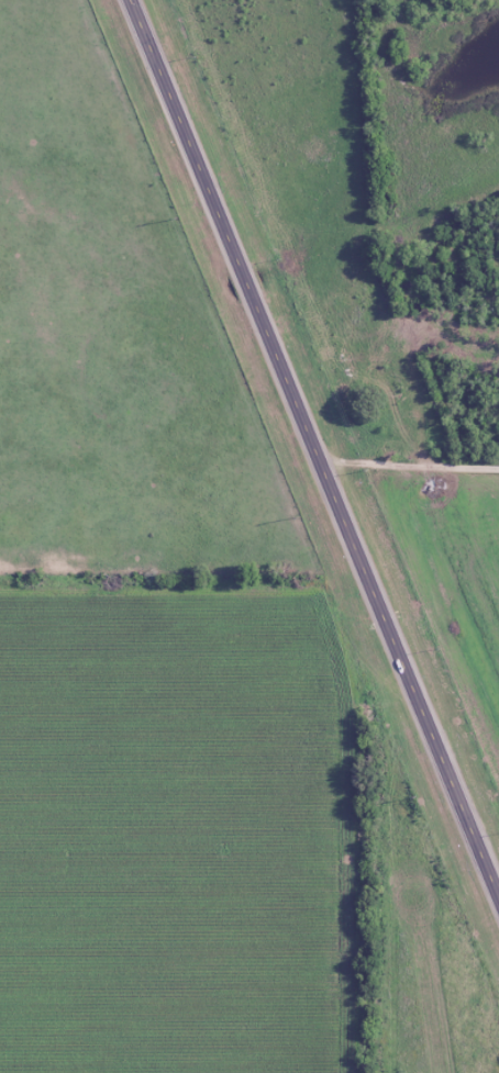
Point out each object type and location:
power tower: (178, 219)
road: (314, 449)
road: (410, 465)
power tower: (299, 516)
power tower: (413, 796)

